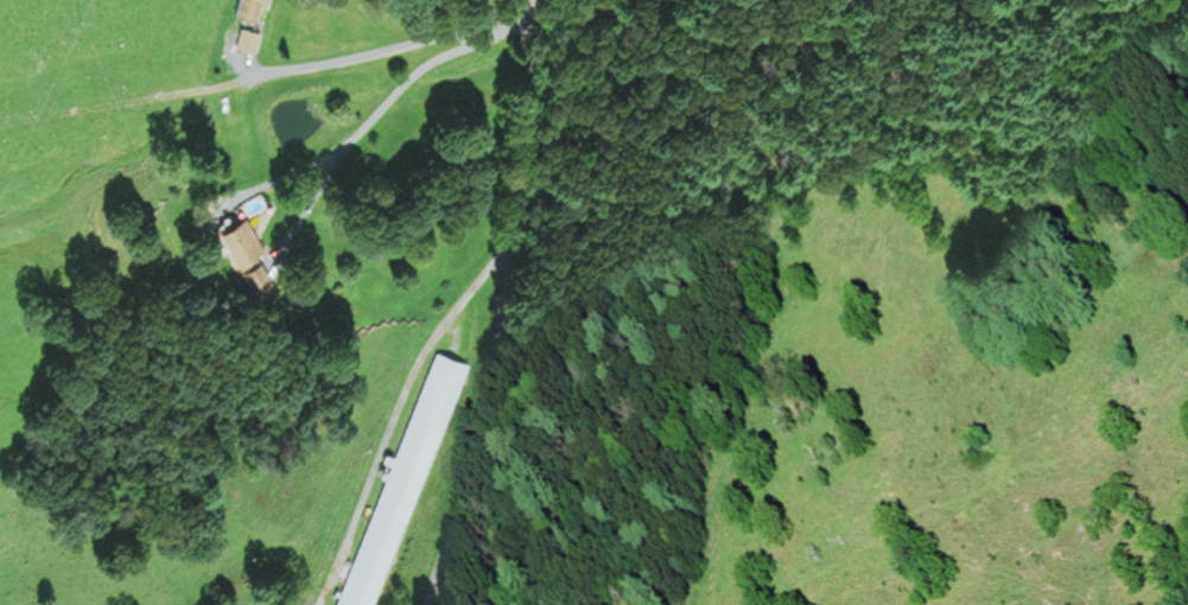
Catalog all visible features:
building: (249, 8)
road: (383, 49)
road: (133, 102)
road: (369, 123)
building: (248, 254)
road: (509, 310)
road: (399, 405)
building: (405, 480)

